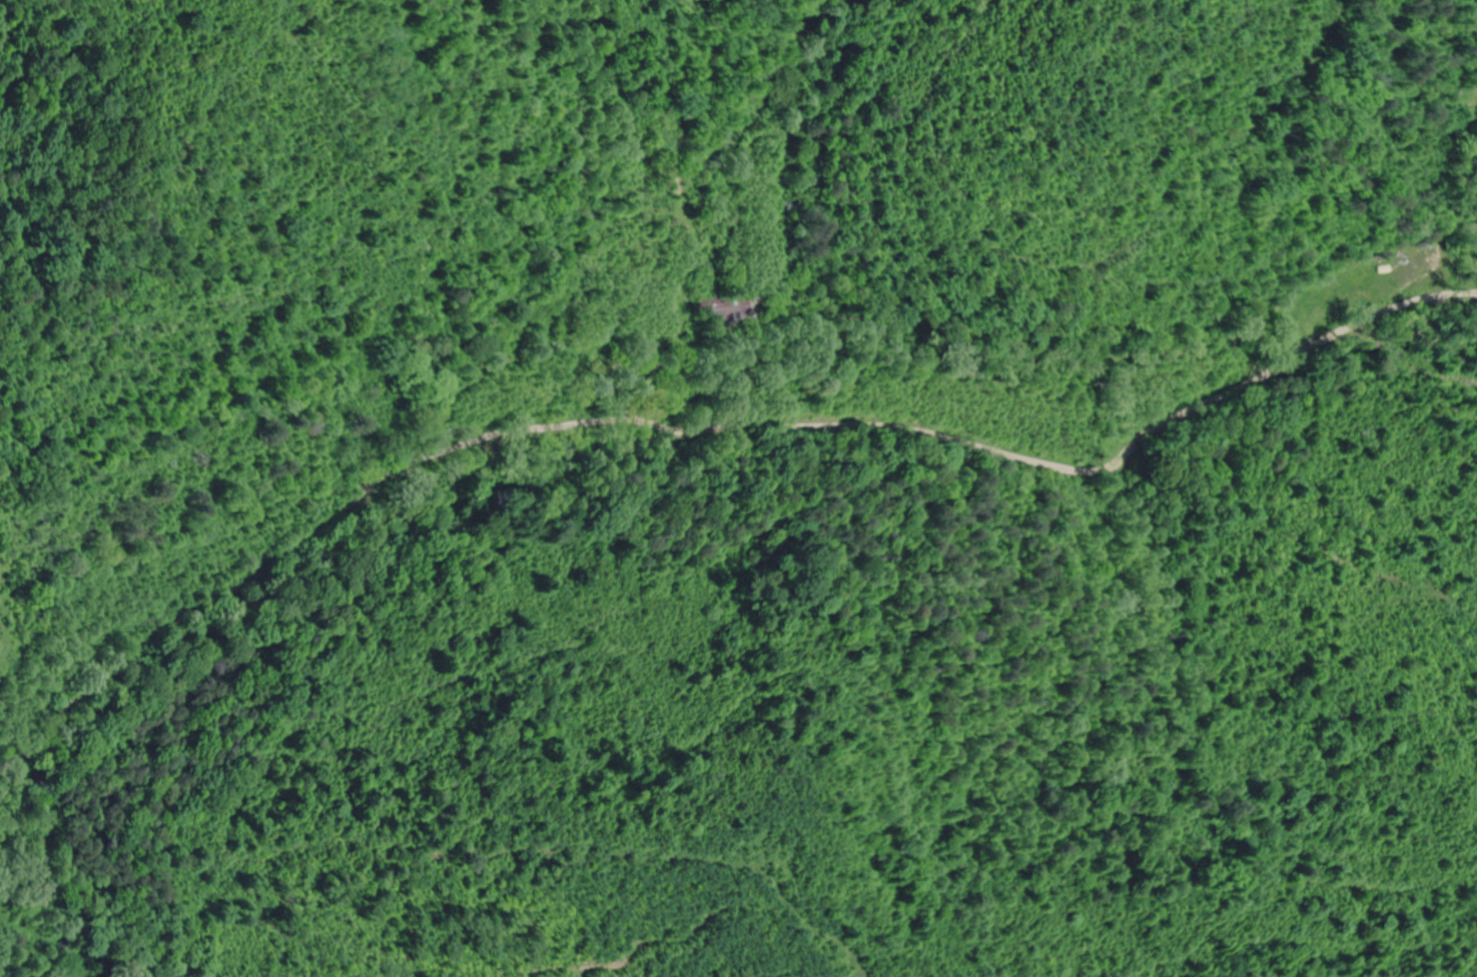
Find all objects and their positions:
building: (735, 309)
road: (706, 434)

